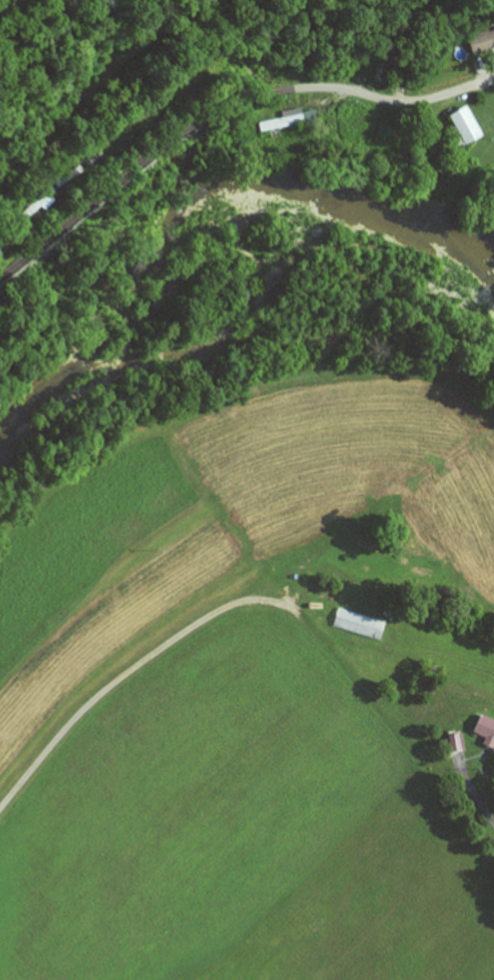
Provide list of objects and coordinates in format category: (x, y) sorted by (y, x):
building: (482, 41)
railway: (91, 83)
road: (223, 110)
building: (283, 121)
building: (464, 127)
river: (200, 193)
road: (133, 671)
building: (485, 731)

